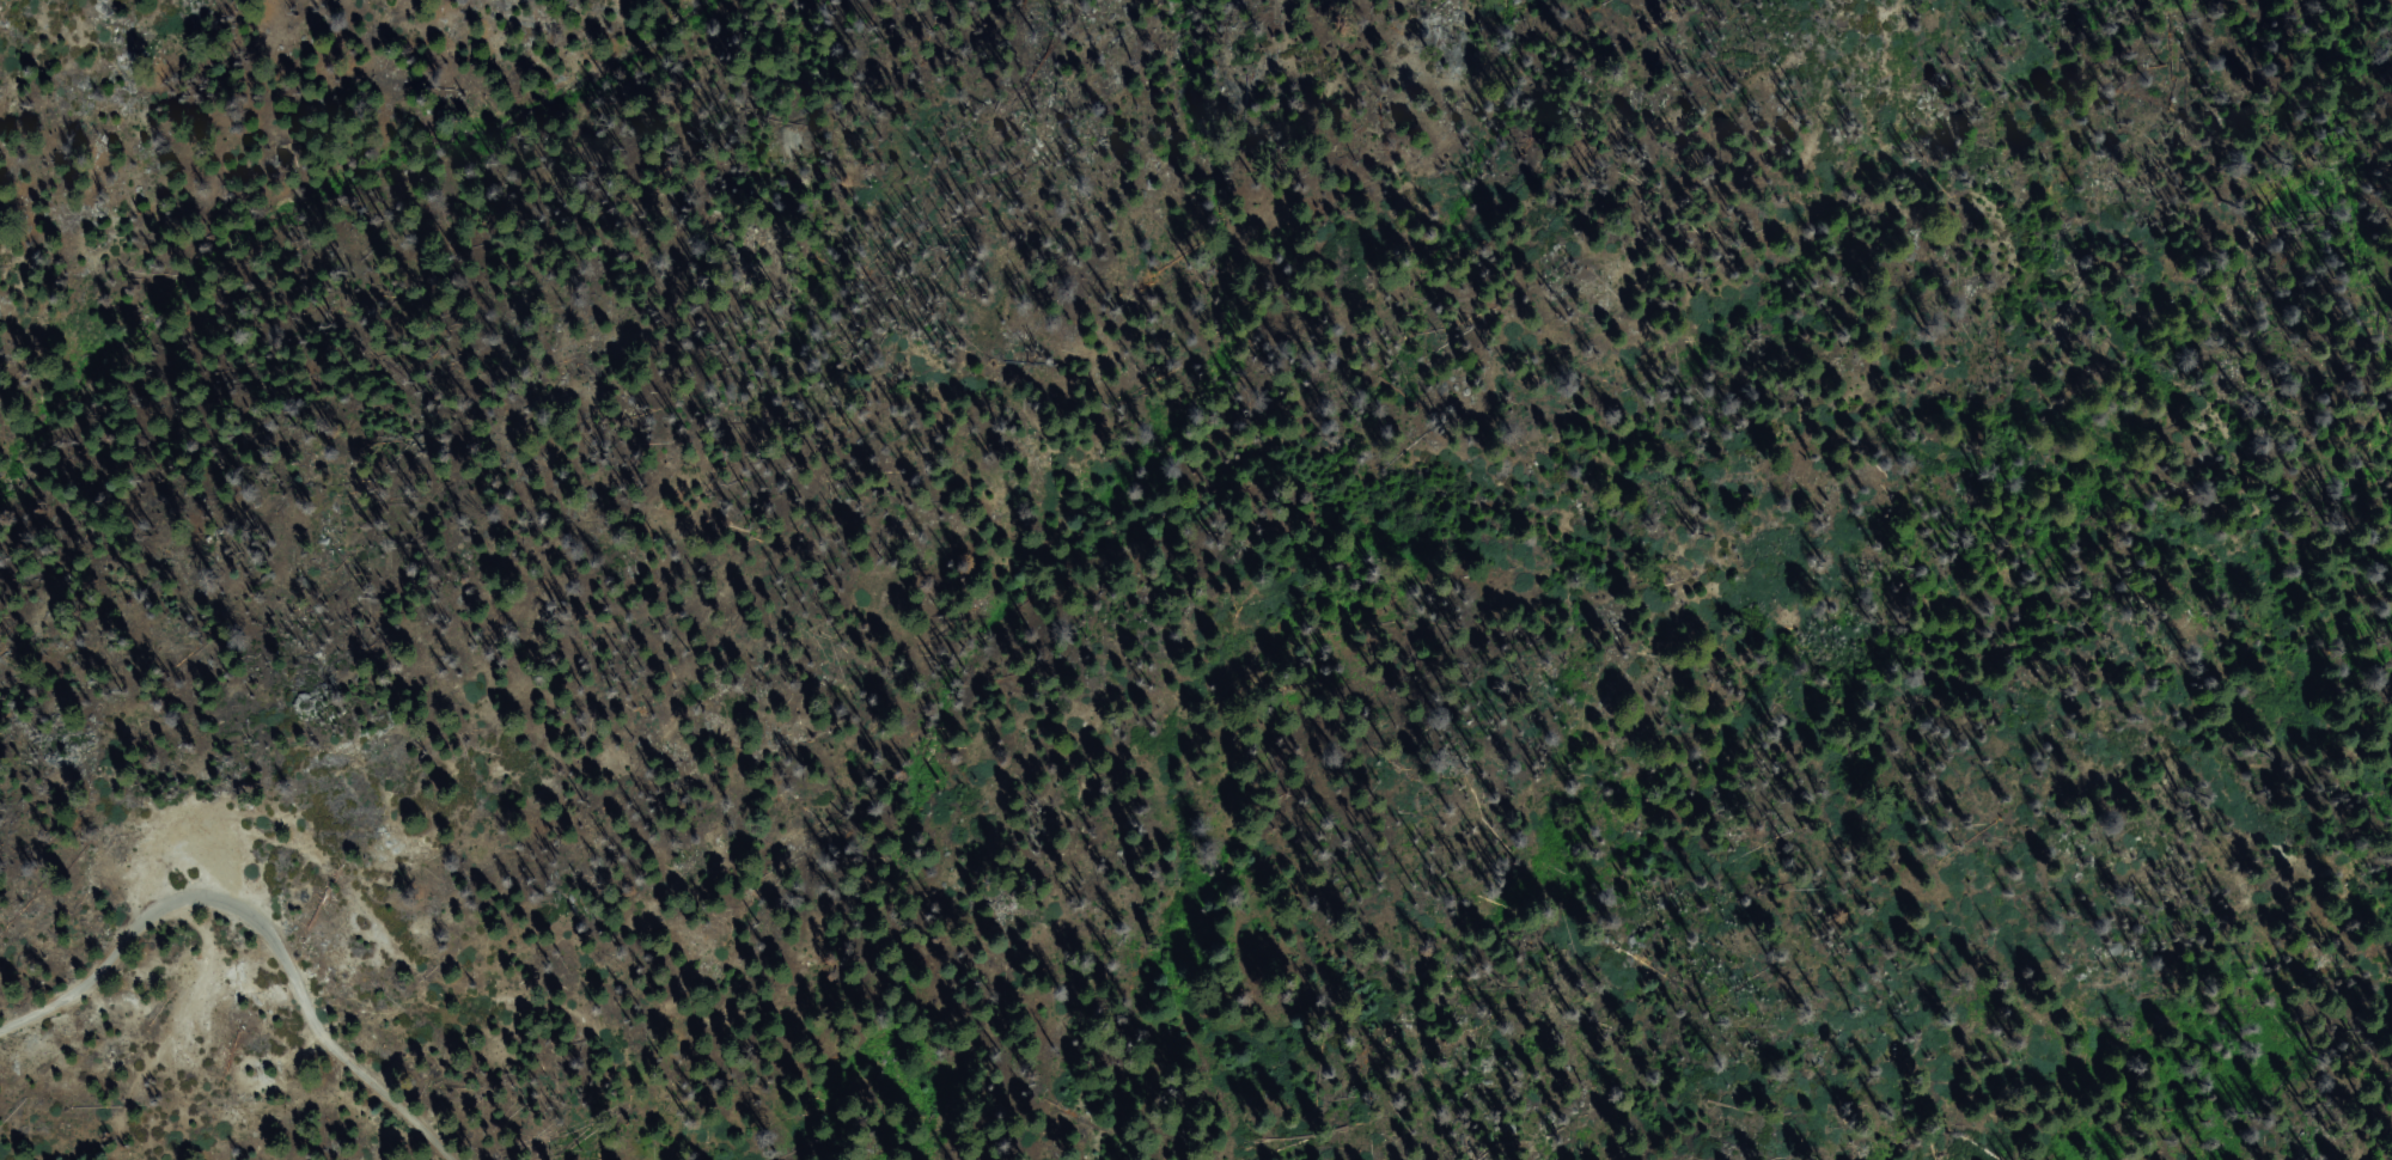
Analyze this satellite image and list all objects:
road: (258, 924)

